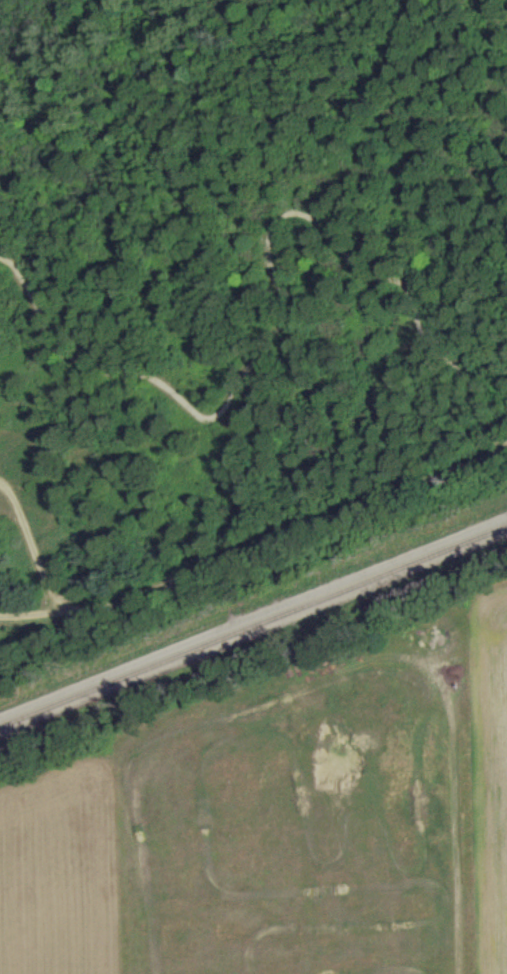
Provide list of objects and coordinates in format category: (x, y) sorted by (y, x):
railway: (253, 629)

